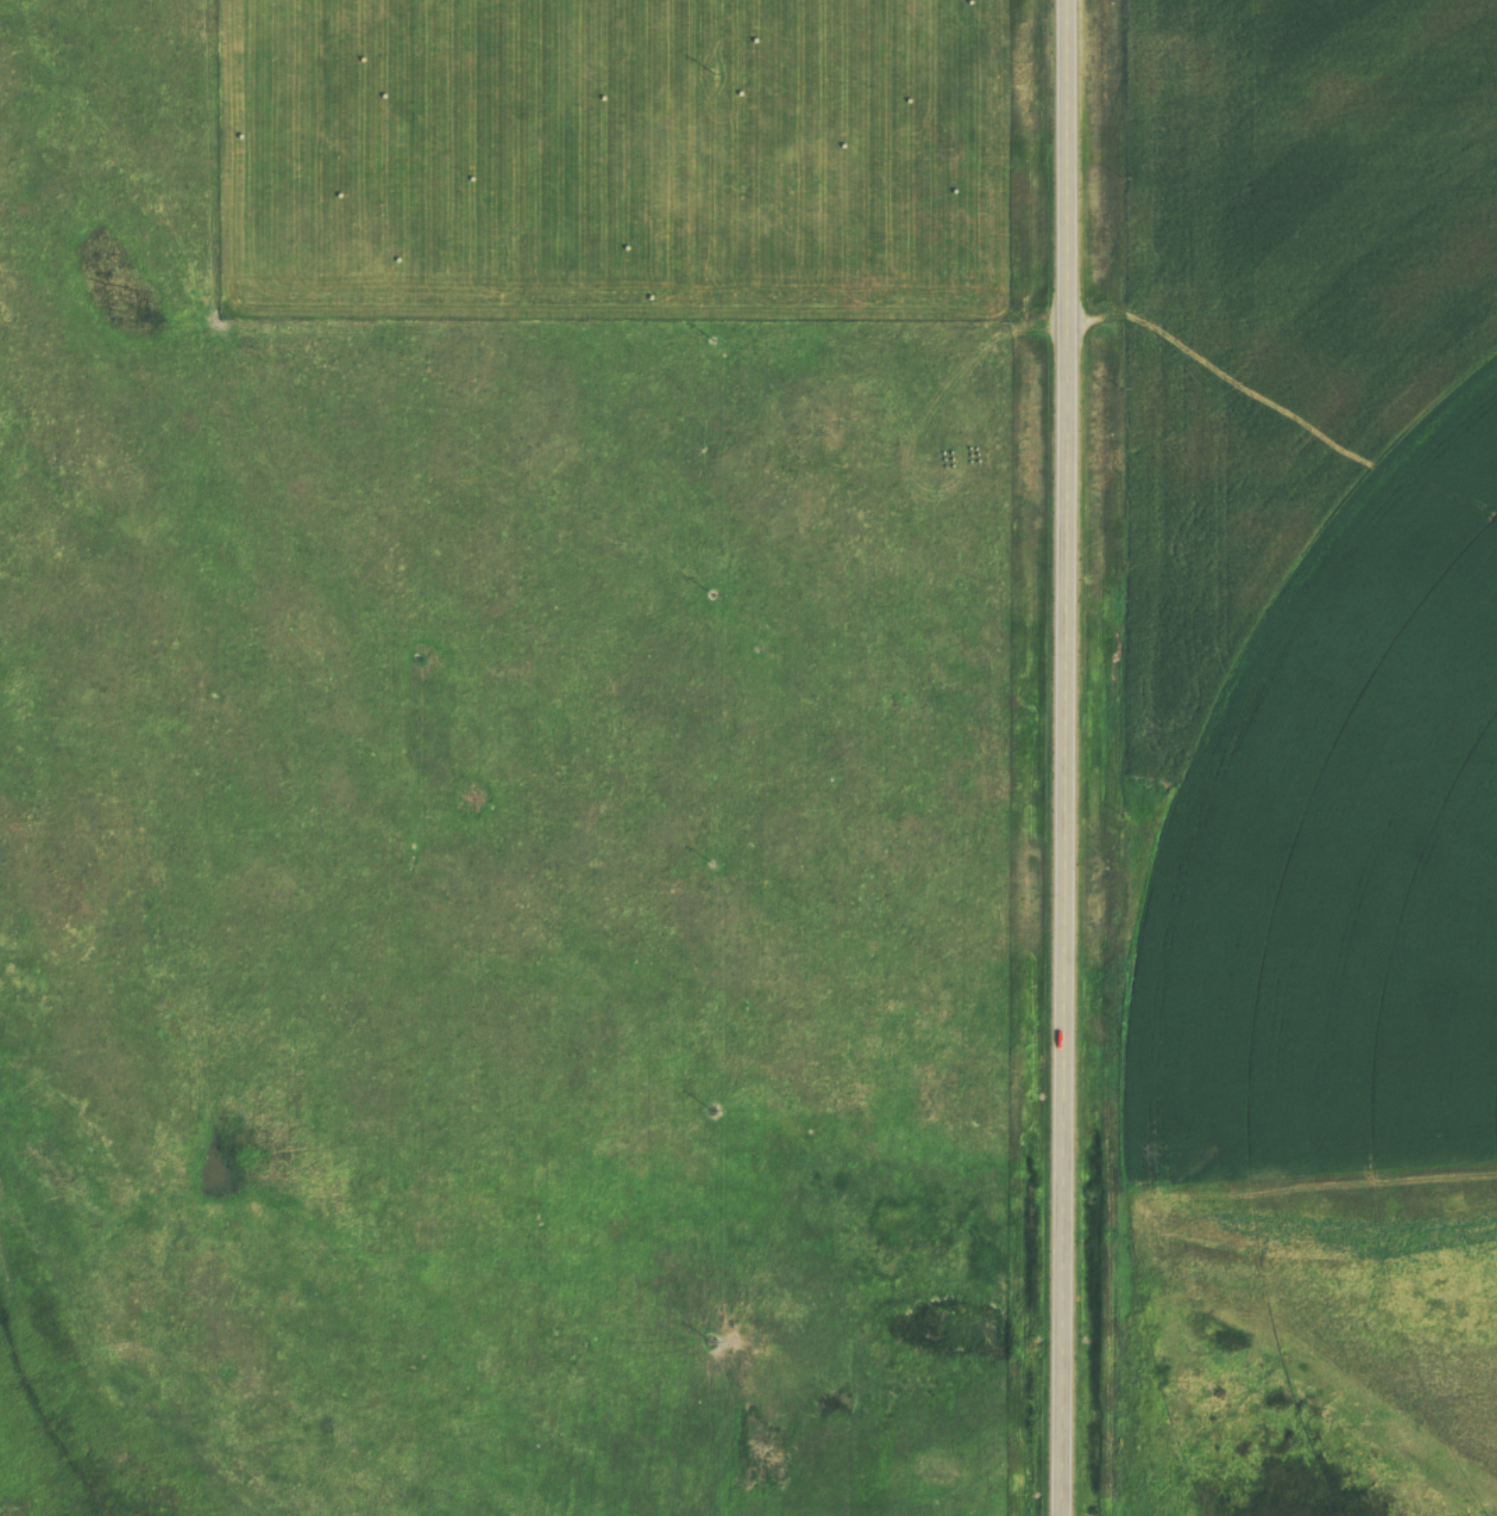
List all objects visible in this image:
road: (1052, 758)

